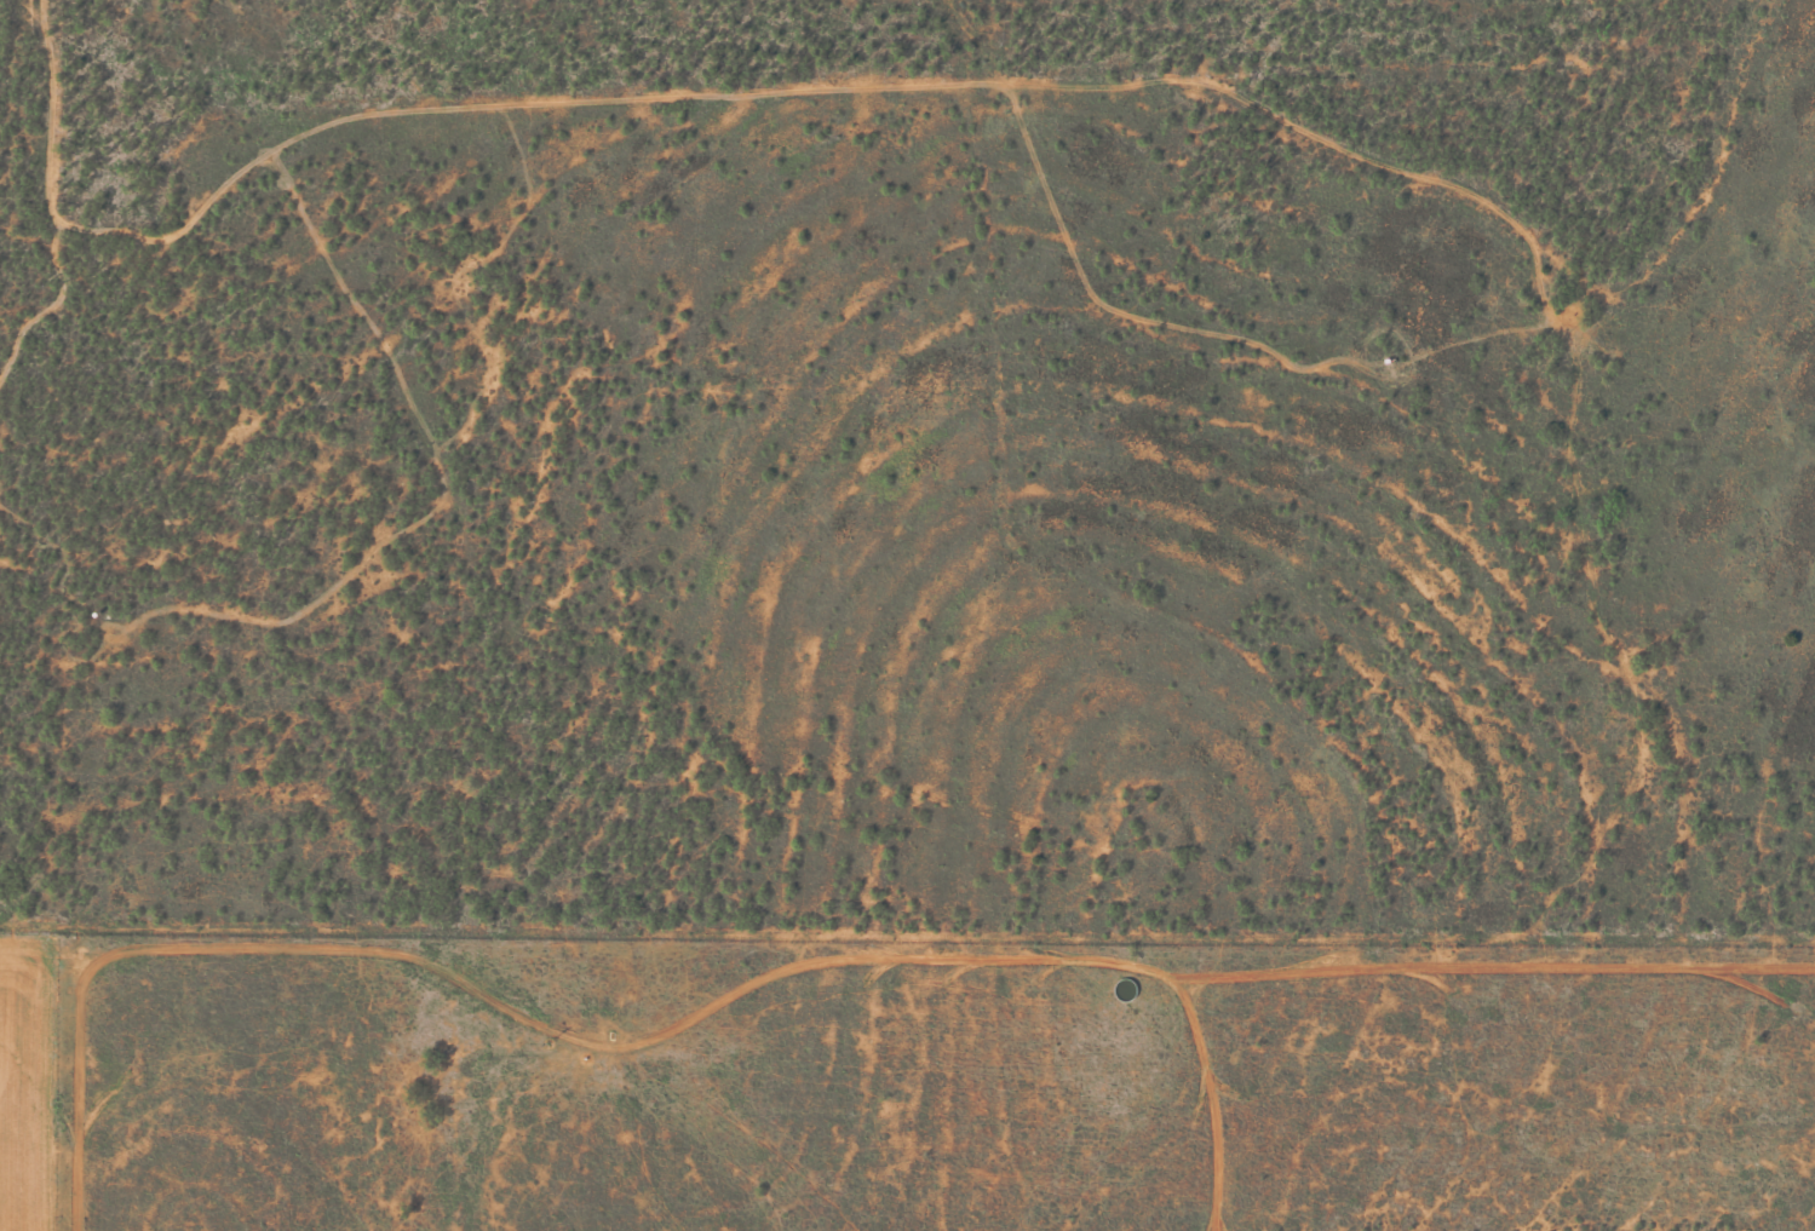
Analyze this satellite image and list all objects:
road: (753, 103)

